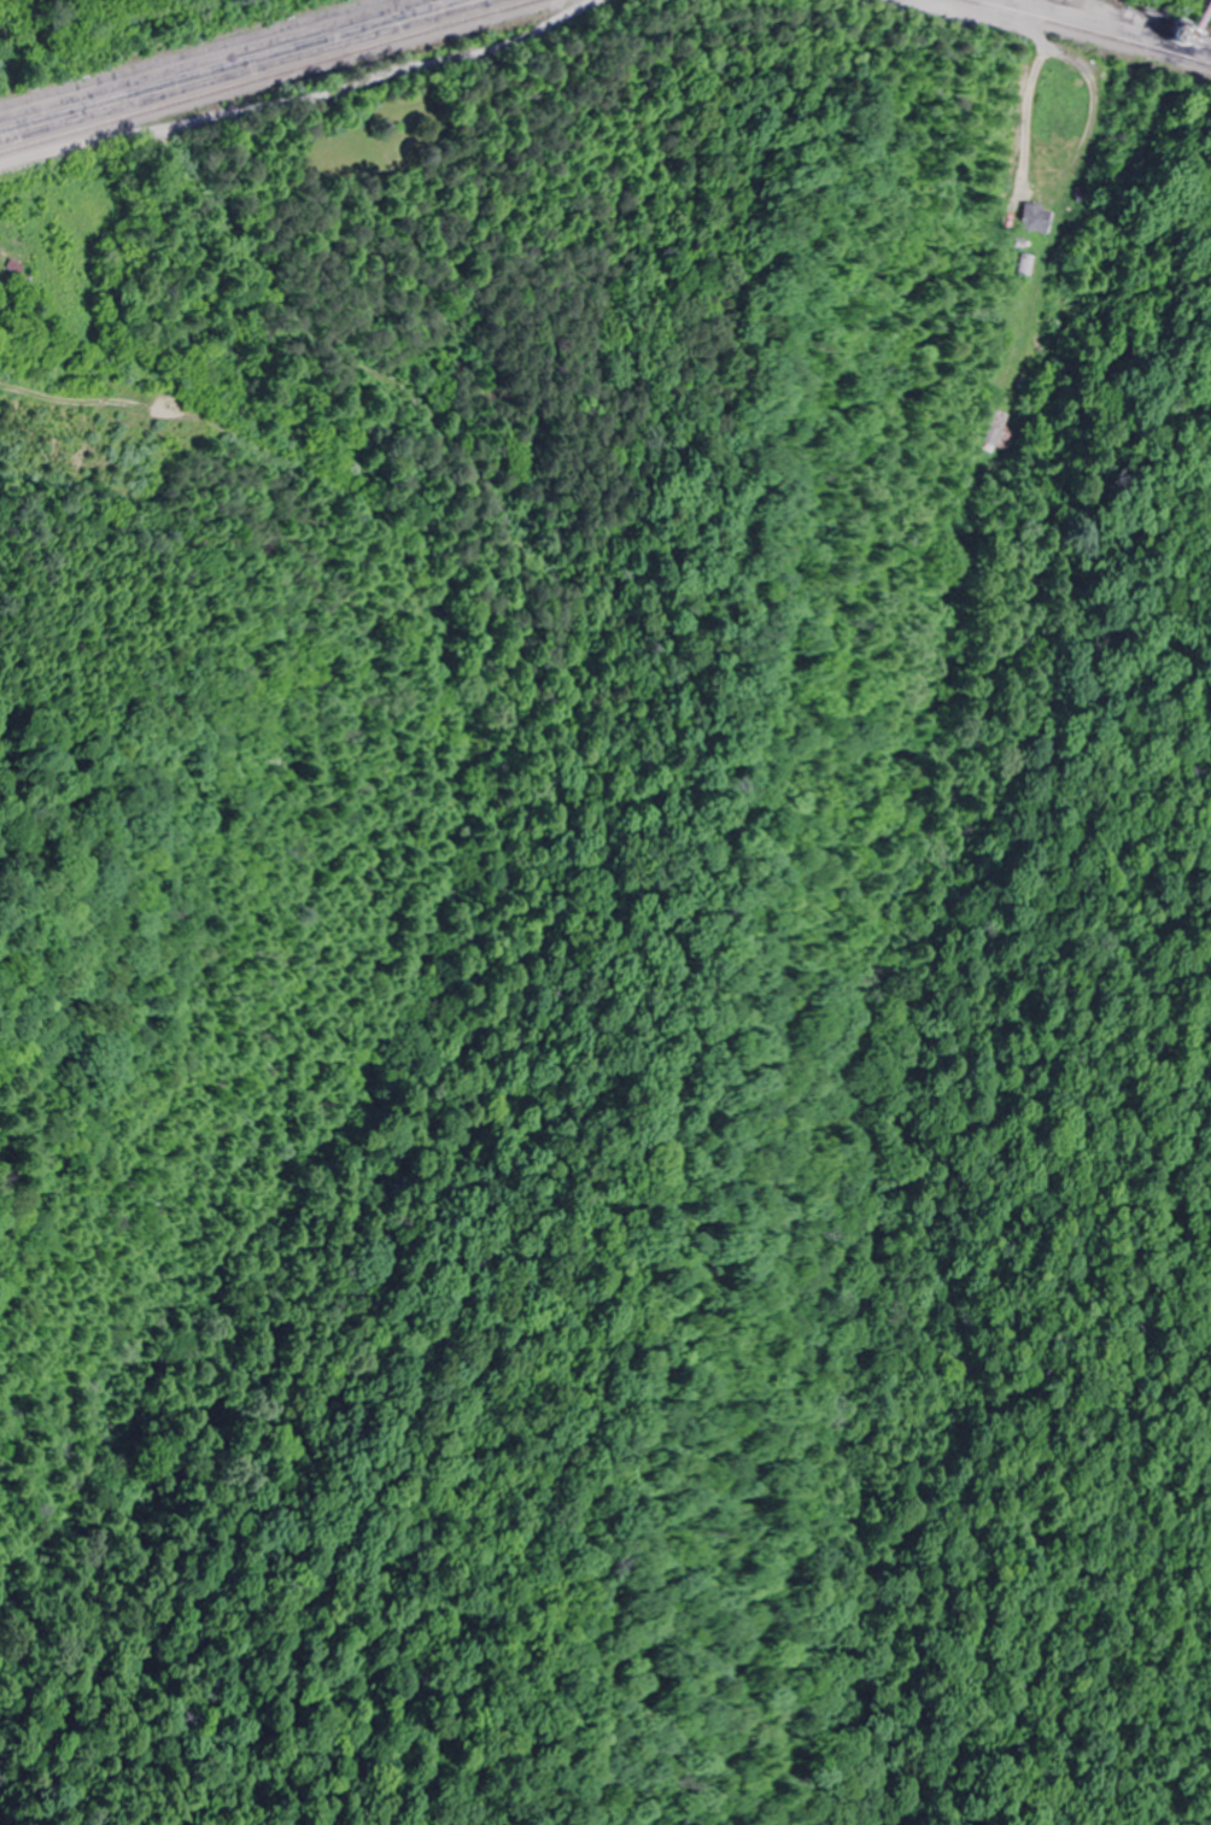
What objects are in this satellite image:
railway: (1060, 0)
road: (1010, 10)
railway: (1073, 10)
road: (994, 14)
railway: (1135, 21)
railway: (1087, 31)
railway: (191, 54)
railway: (213, 60)
railway: (234, 66)
railway: (252, 72)
railway: (268, 78)
road: (298, 99)
road: (1029, 113)
building: (1032, 215)
building: (1024, 265)
building: (1, 285)
road: (335, 353)
road: (197, 415)
building: (1000, 432)

